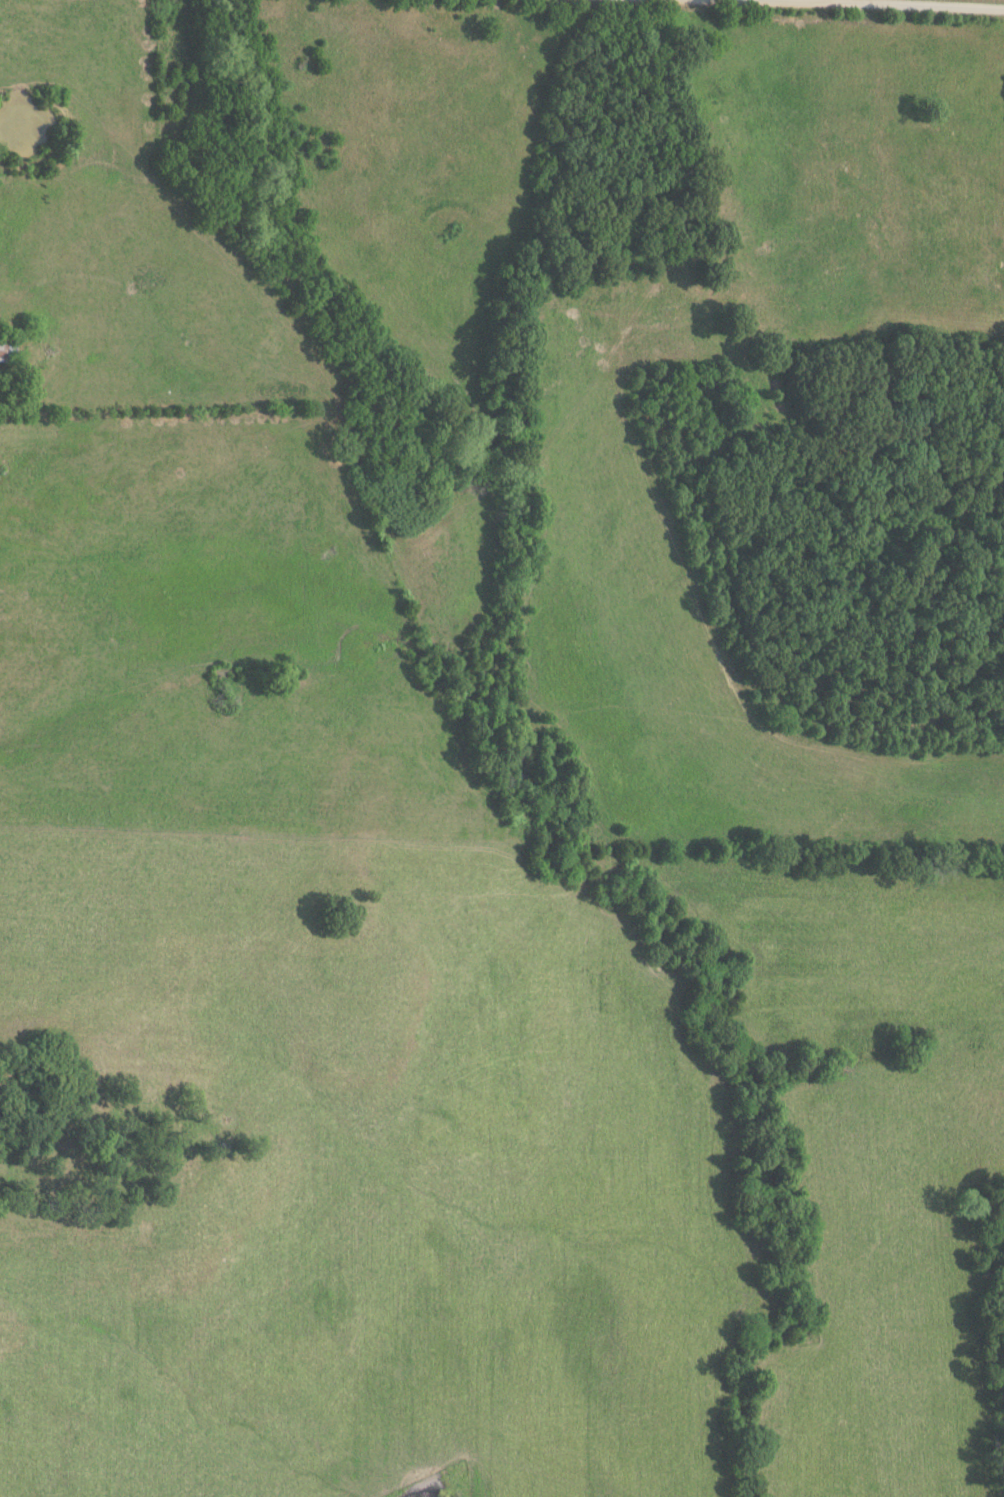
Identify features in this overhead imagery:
road: (936, 6)
building: (5, 348)

